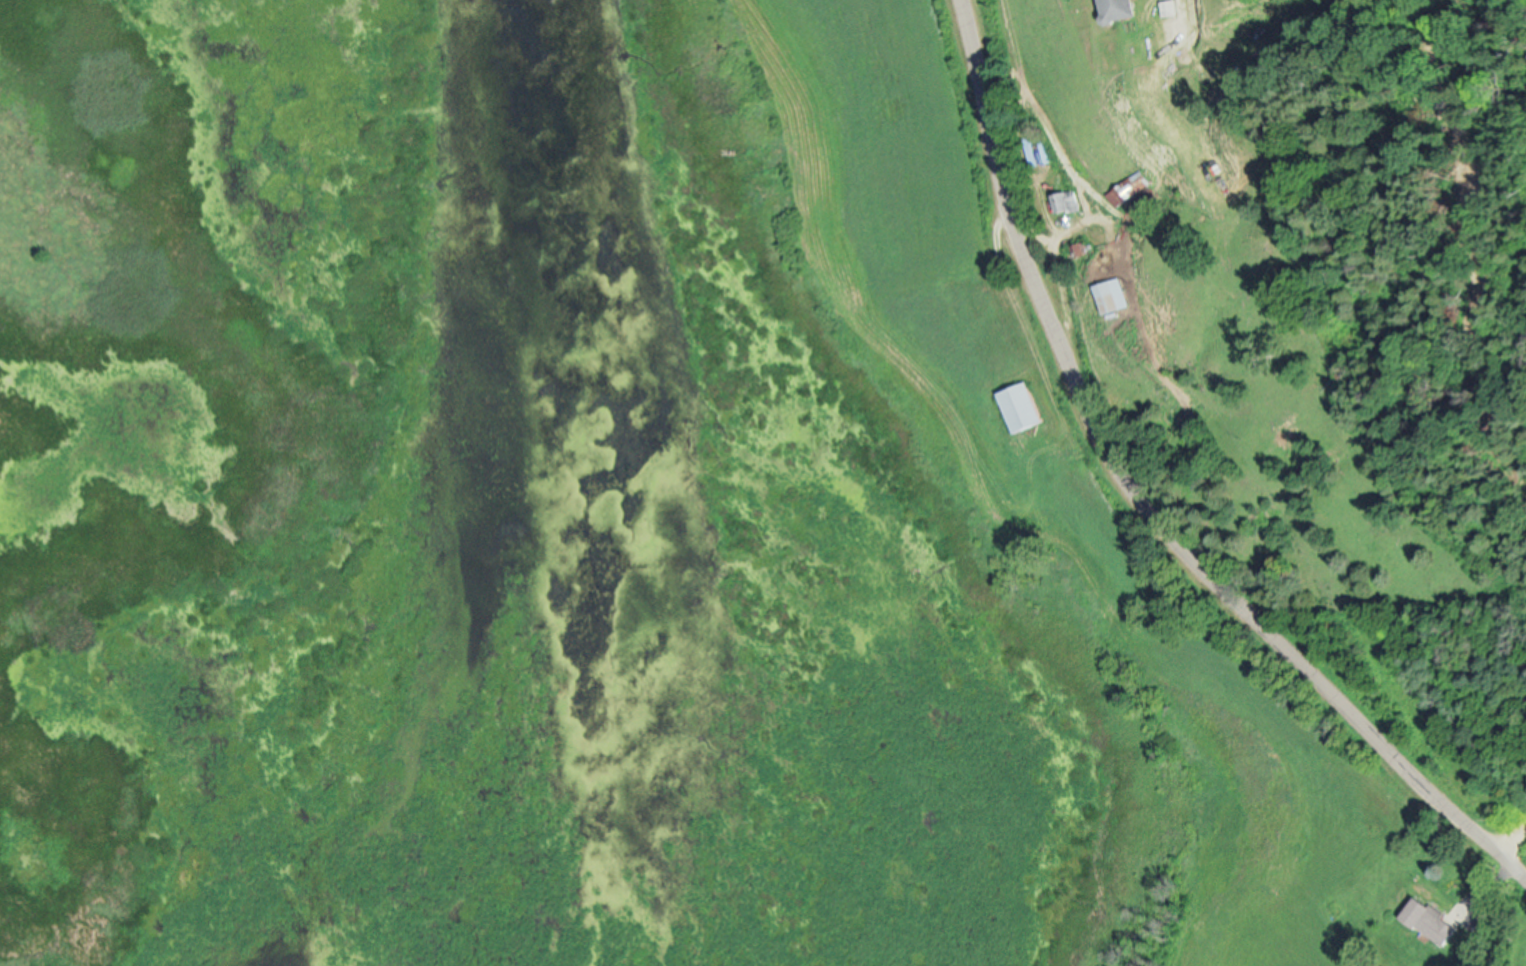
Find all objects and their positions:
building: (1116, 9)
building: (1126, 187)
building: (1064, 202)
building: (1078, 248)
building: (1111, 295)
building: (1019, 406)
road: (1139, 524)
road: (1502, 844)
building: (1429, 921)

